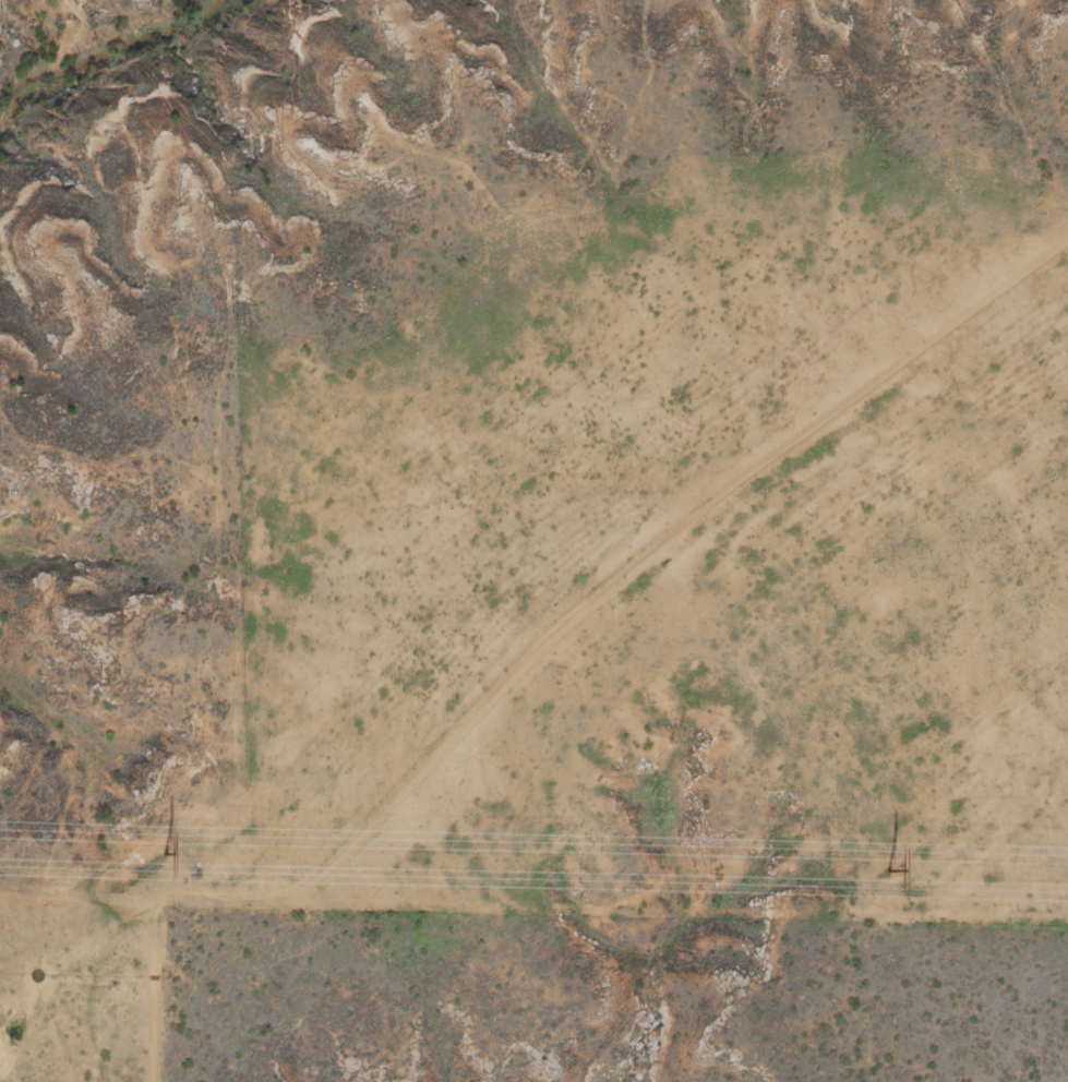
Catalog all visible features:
road: (532, 639)
power tower: (166, 852)
power tower: (891, 869)

